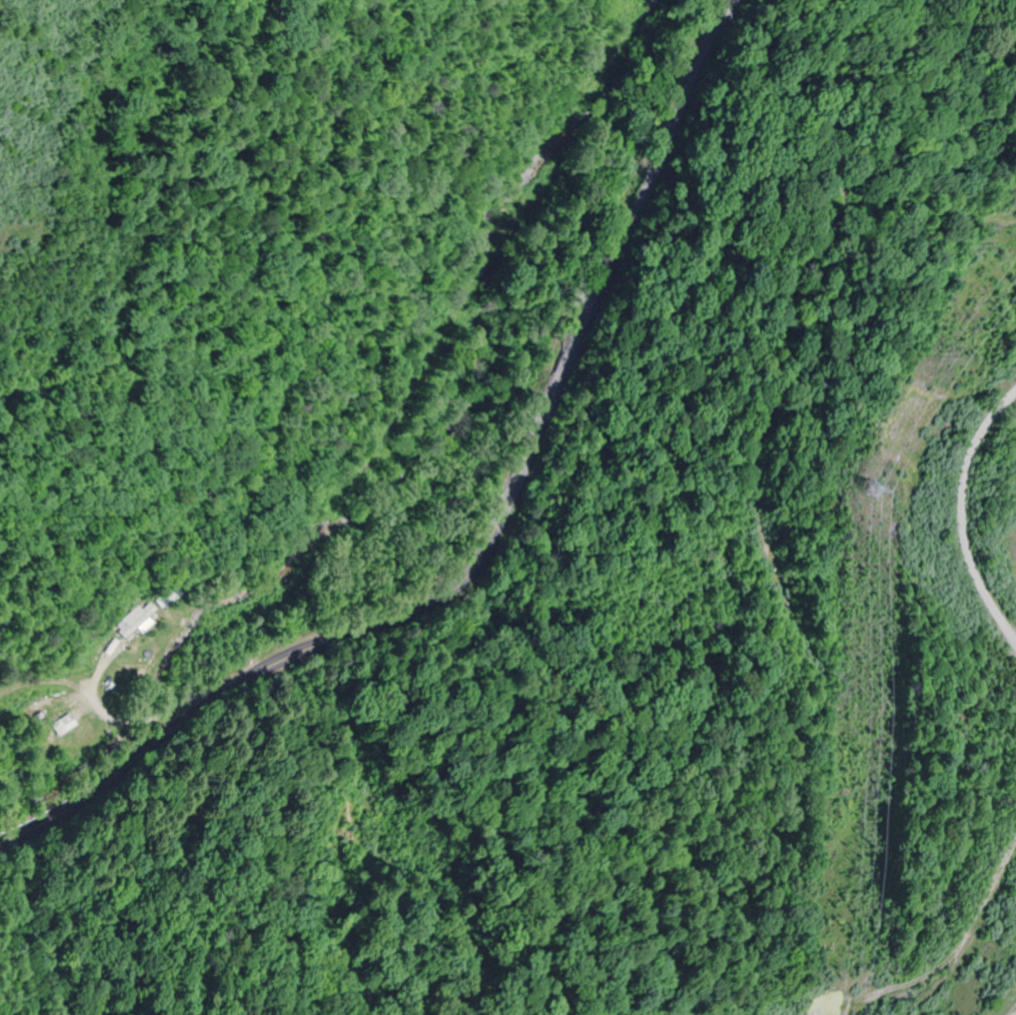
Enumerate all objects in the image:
power tower: (861, 489)
road: (490, 532)
building: (165, 596)
building: (135, 622)
building: (40, 716)

